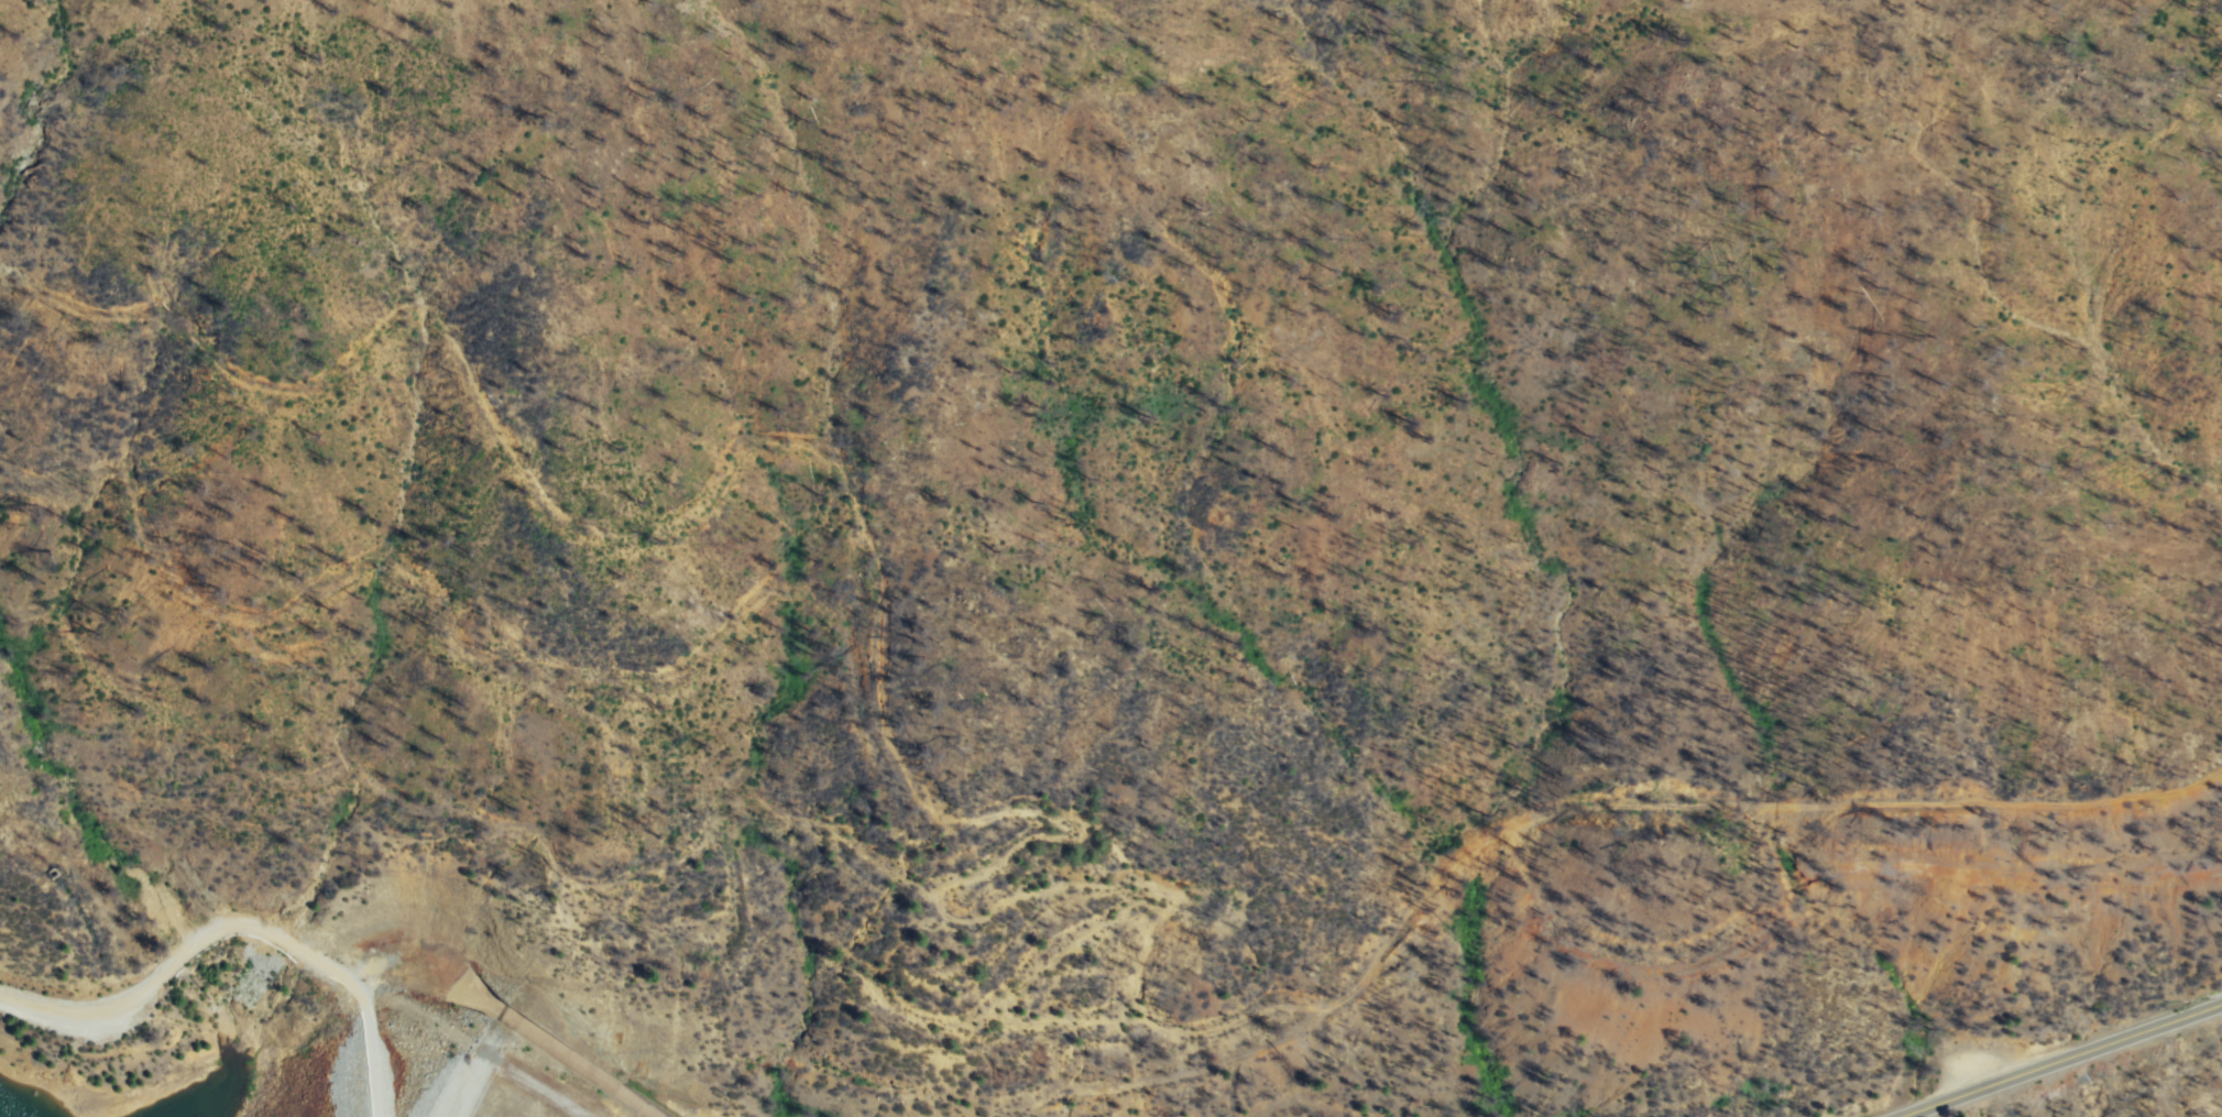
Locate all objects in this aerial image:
road: (1688, 802)
road: (309, 952)
road: (72, 1005)
road: (2059, 1062)
dam: (475, 1078)
road: (464, 1085)

